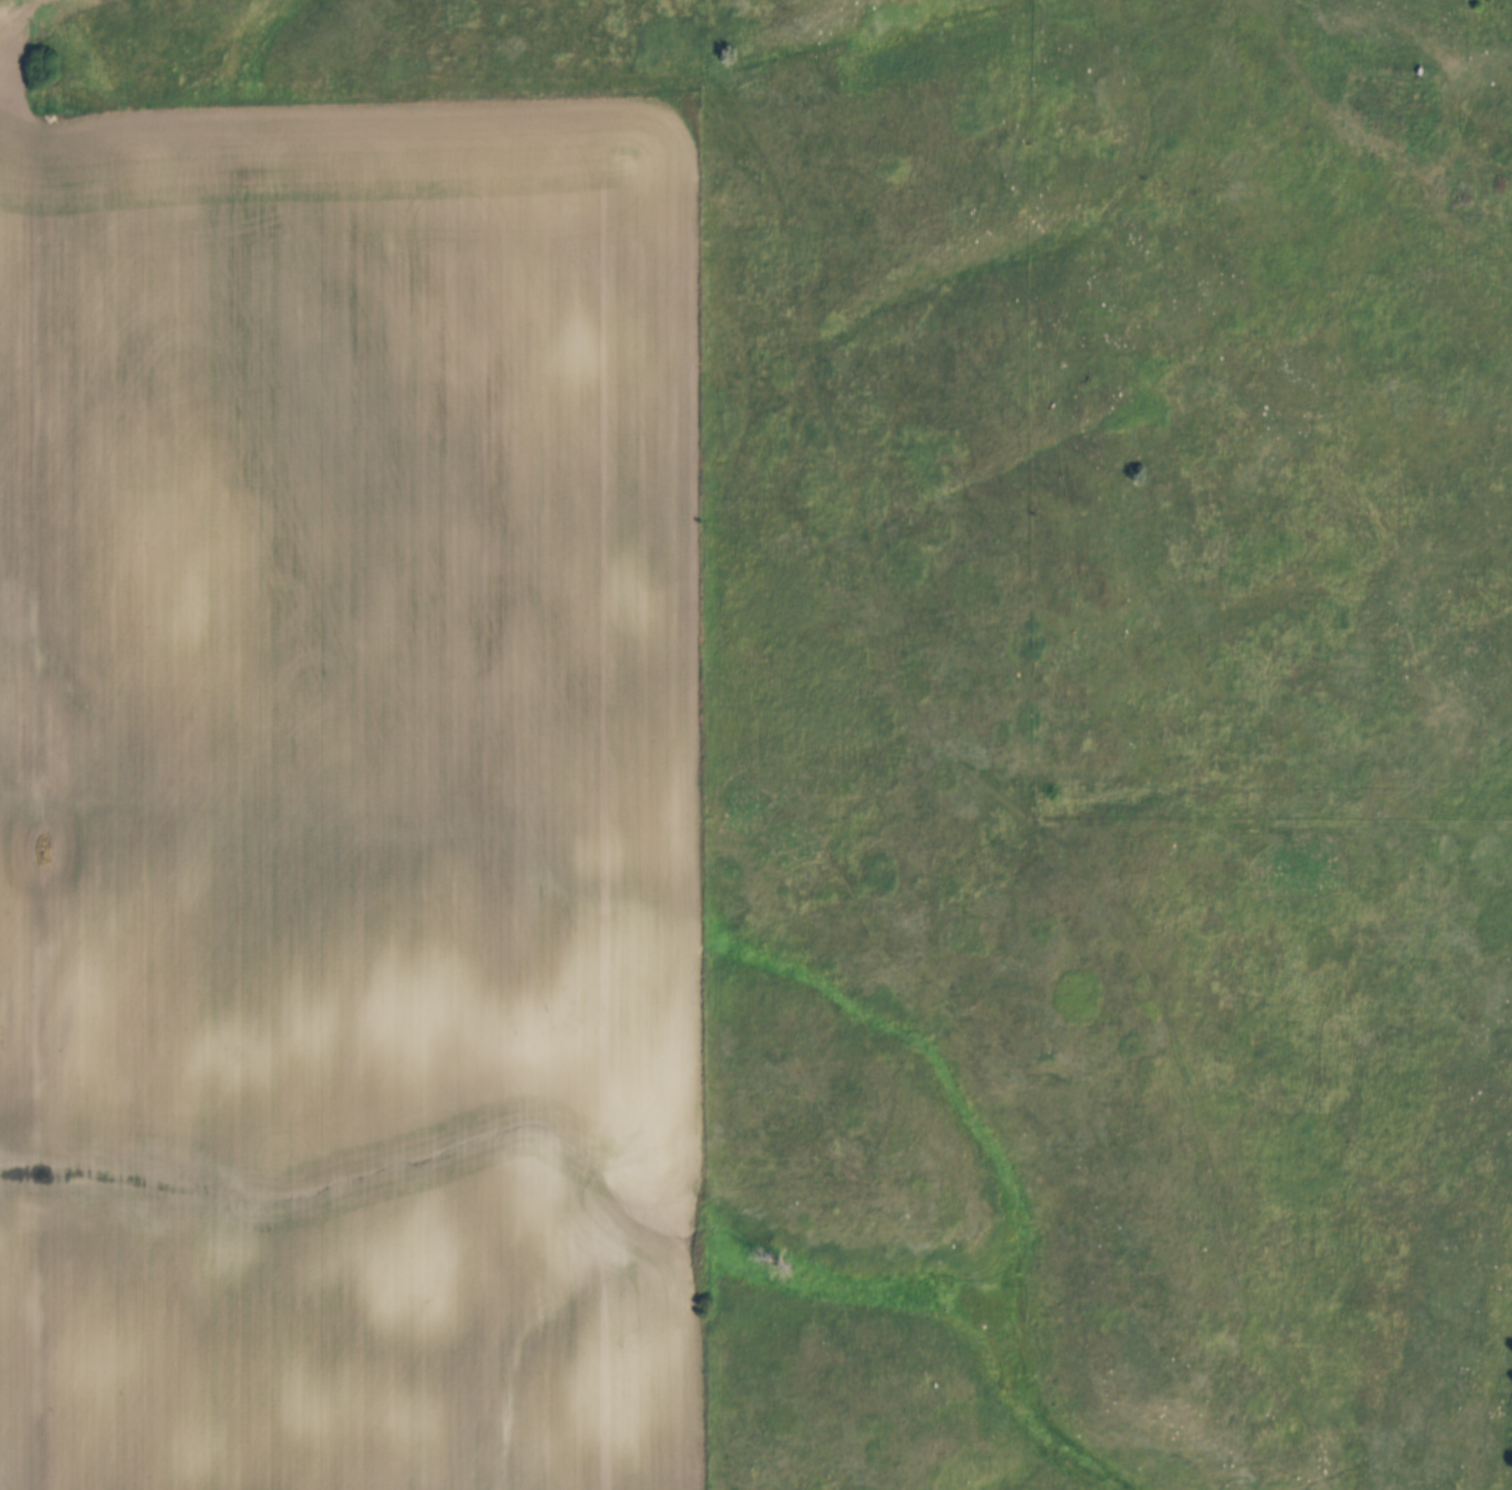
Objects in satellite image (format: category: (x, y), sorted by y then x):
road: (37, 847)

